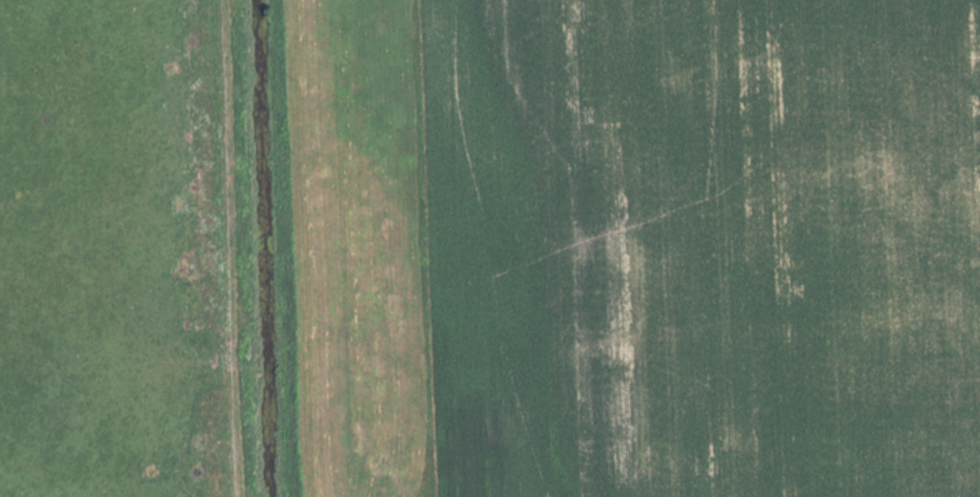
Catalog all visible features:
road: (226, 248)

